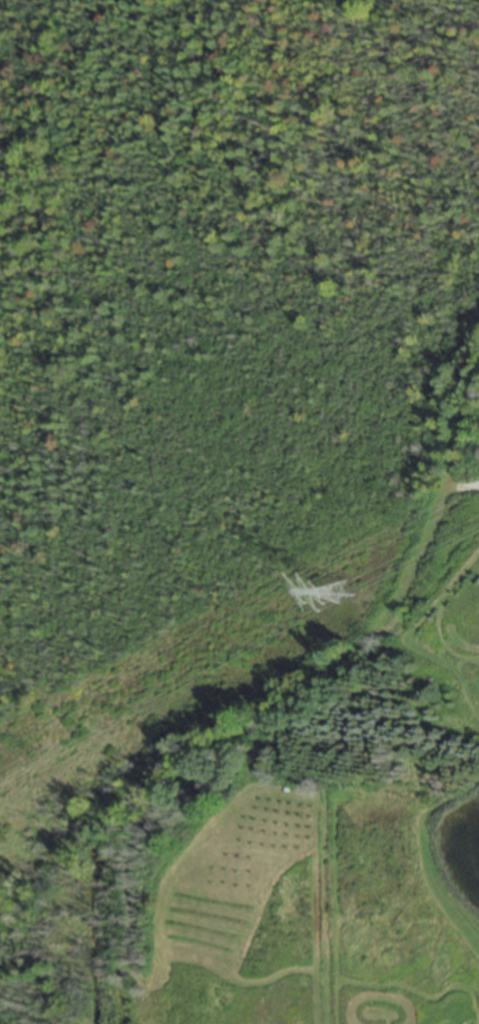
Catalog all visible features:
power tower: (341, 601)

